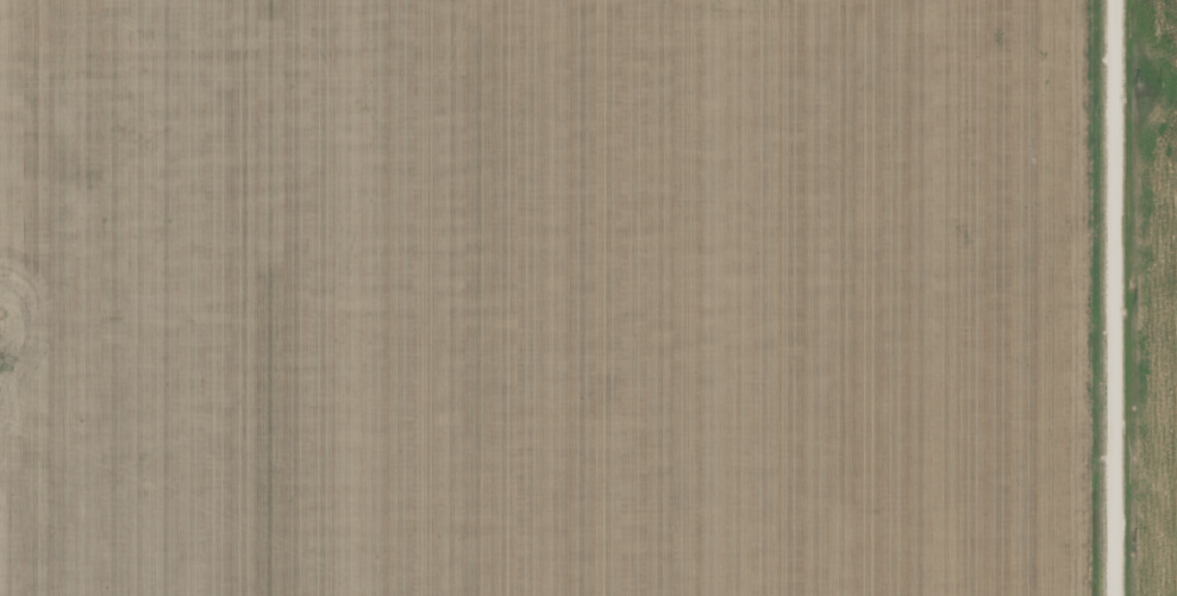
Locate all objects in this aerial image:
road: (1113, 297)

